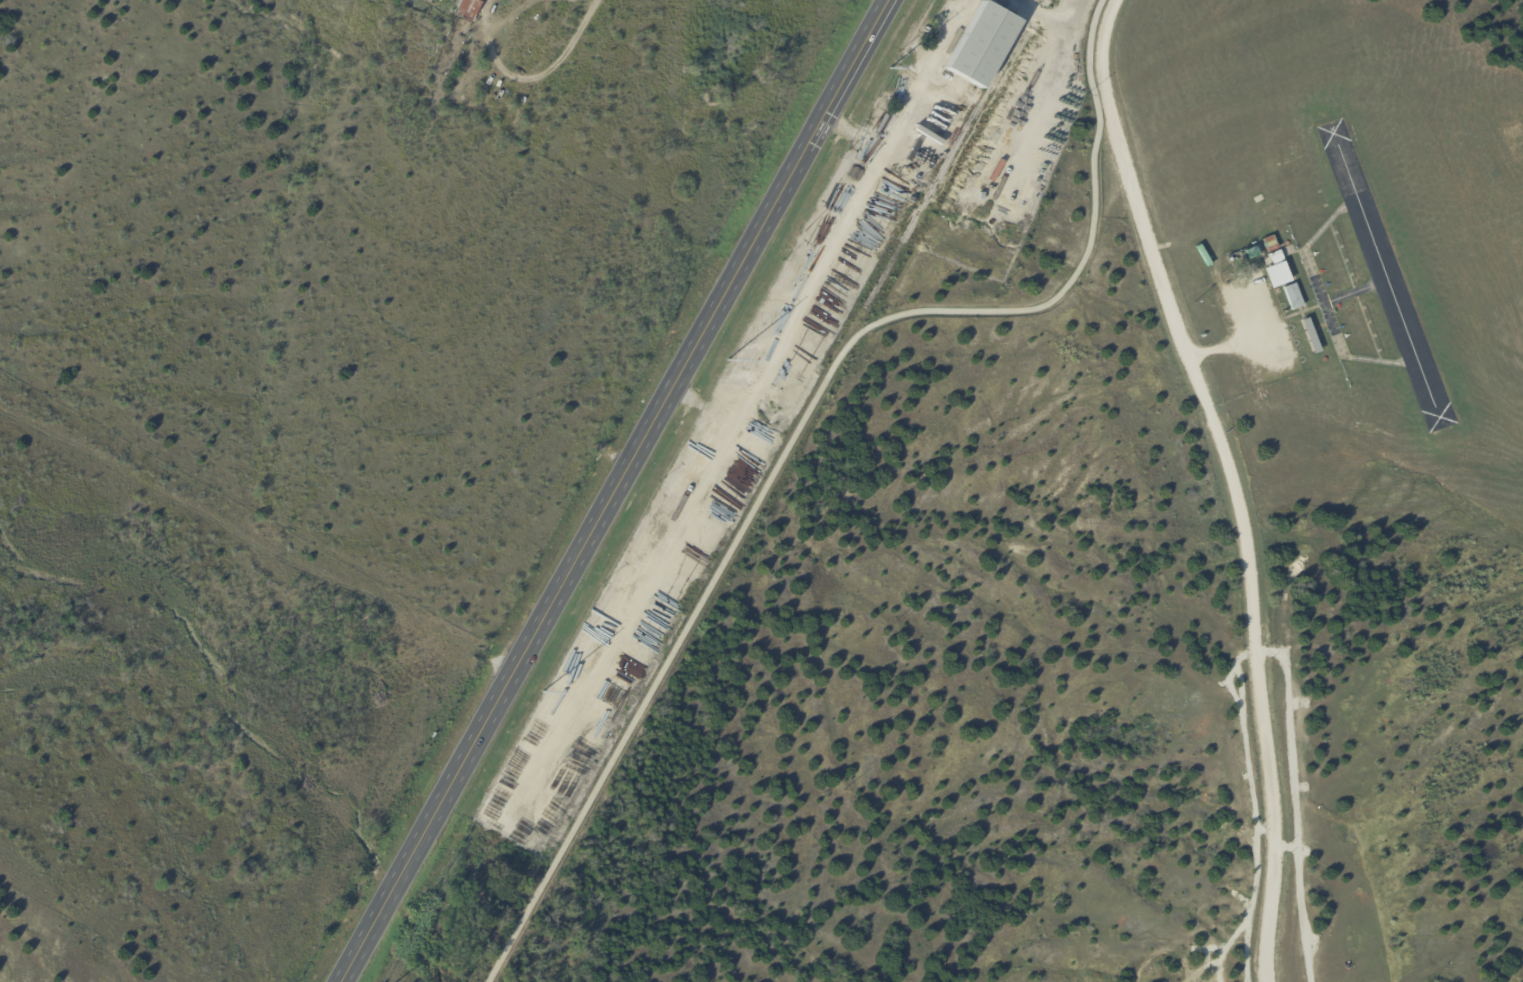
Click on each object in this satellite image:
building: (471, 10)
building: (980, 45)
road: (539, 75)
road: (855, 127)
railway: (952, 153)
building: (1270, 244)
building: (1253, 255)
building: (1275, 257)
building: (1276, 275)
building: (1293, 297)
building: (1310, 337)
road: (1230, 348)
road: (703, 399)
road: (746, 403)
road: (794, 431)
road: (1231, 480)
road: (607, 490)

